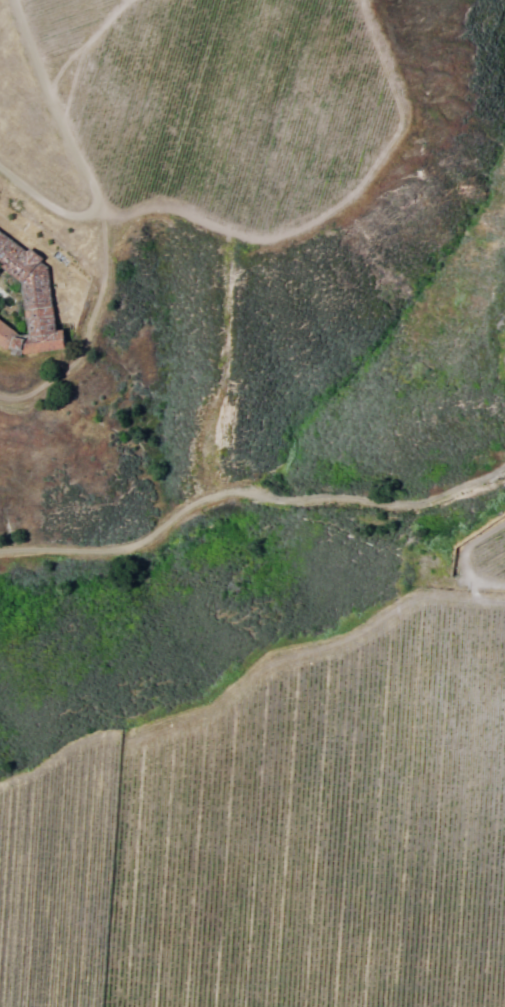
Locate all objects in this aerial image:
crop: (206, 107)
building: (24, 302)
crop: (284, 834)

